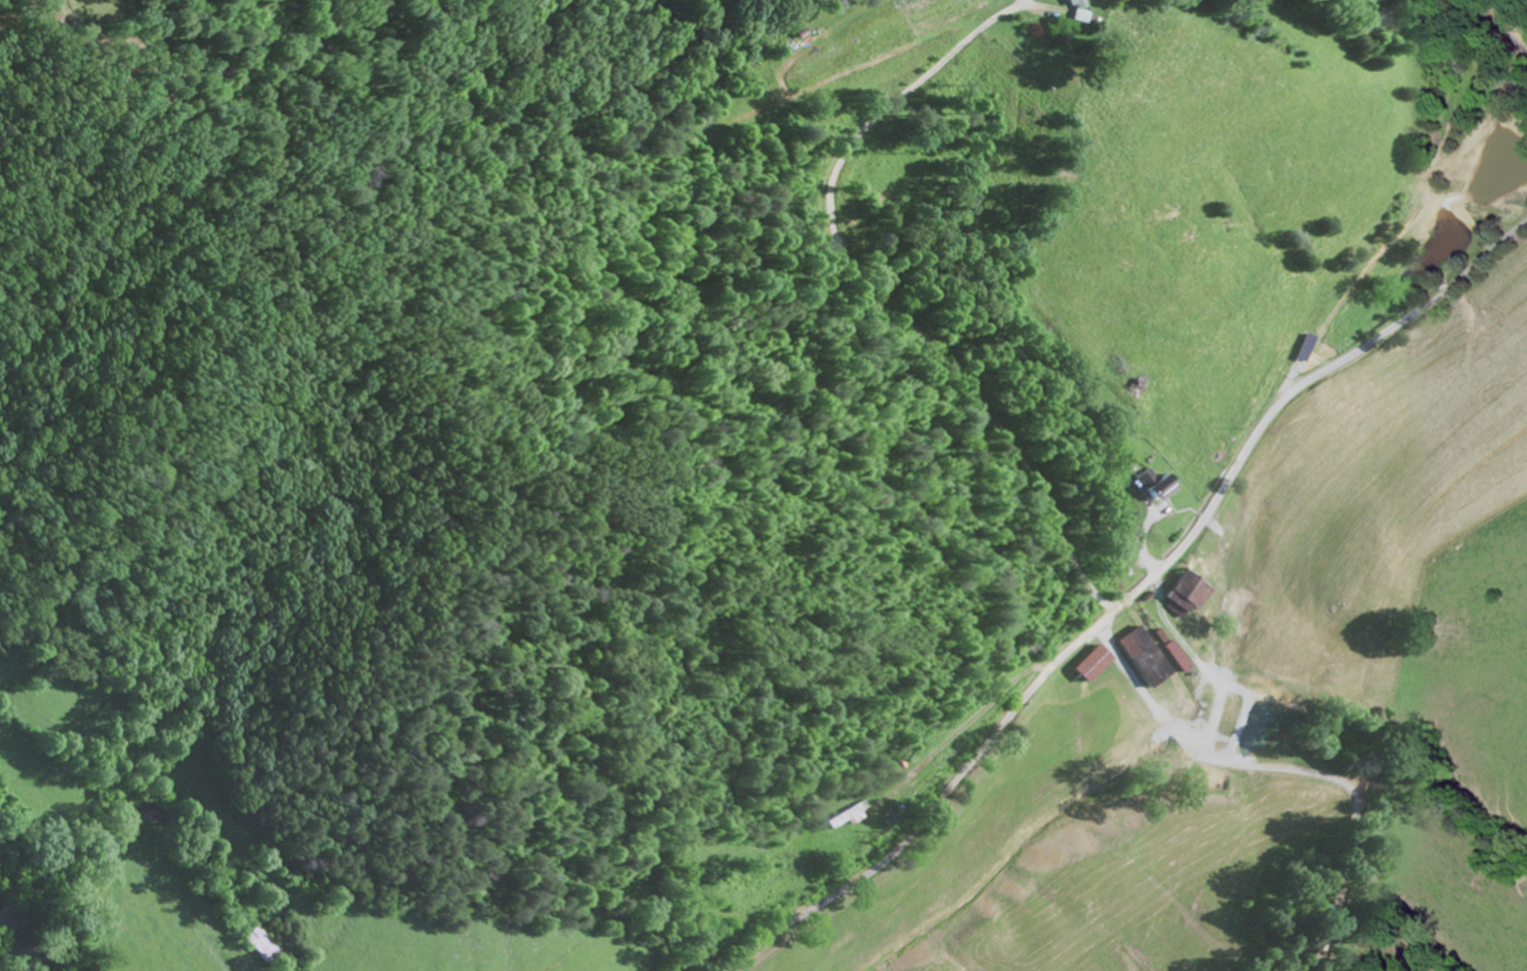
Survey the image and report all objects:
building: (1069, 3)
road: (1496, 23)
road: (1130, 597)
building: (1174, 660)
building: (1143, 666)
building: (268, 947)
river: (6, 962)

